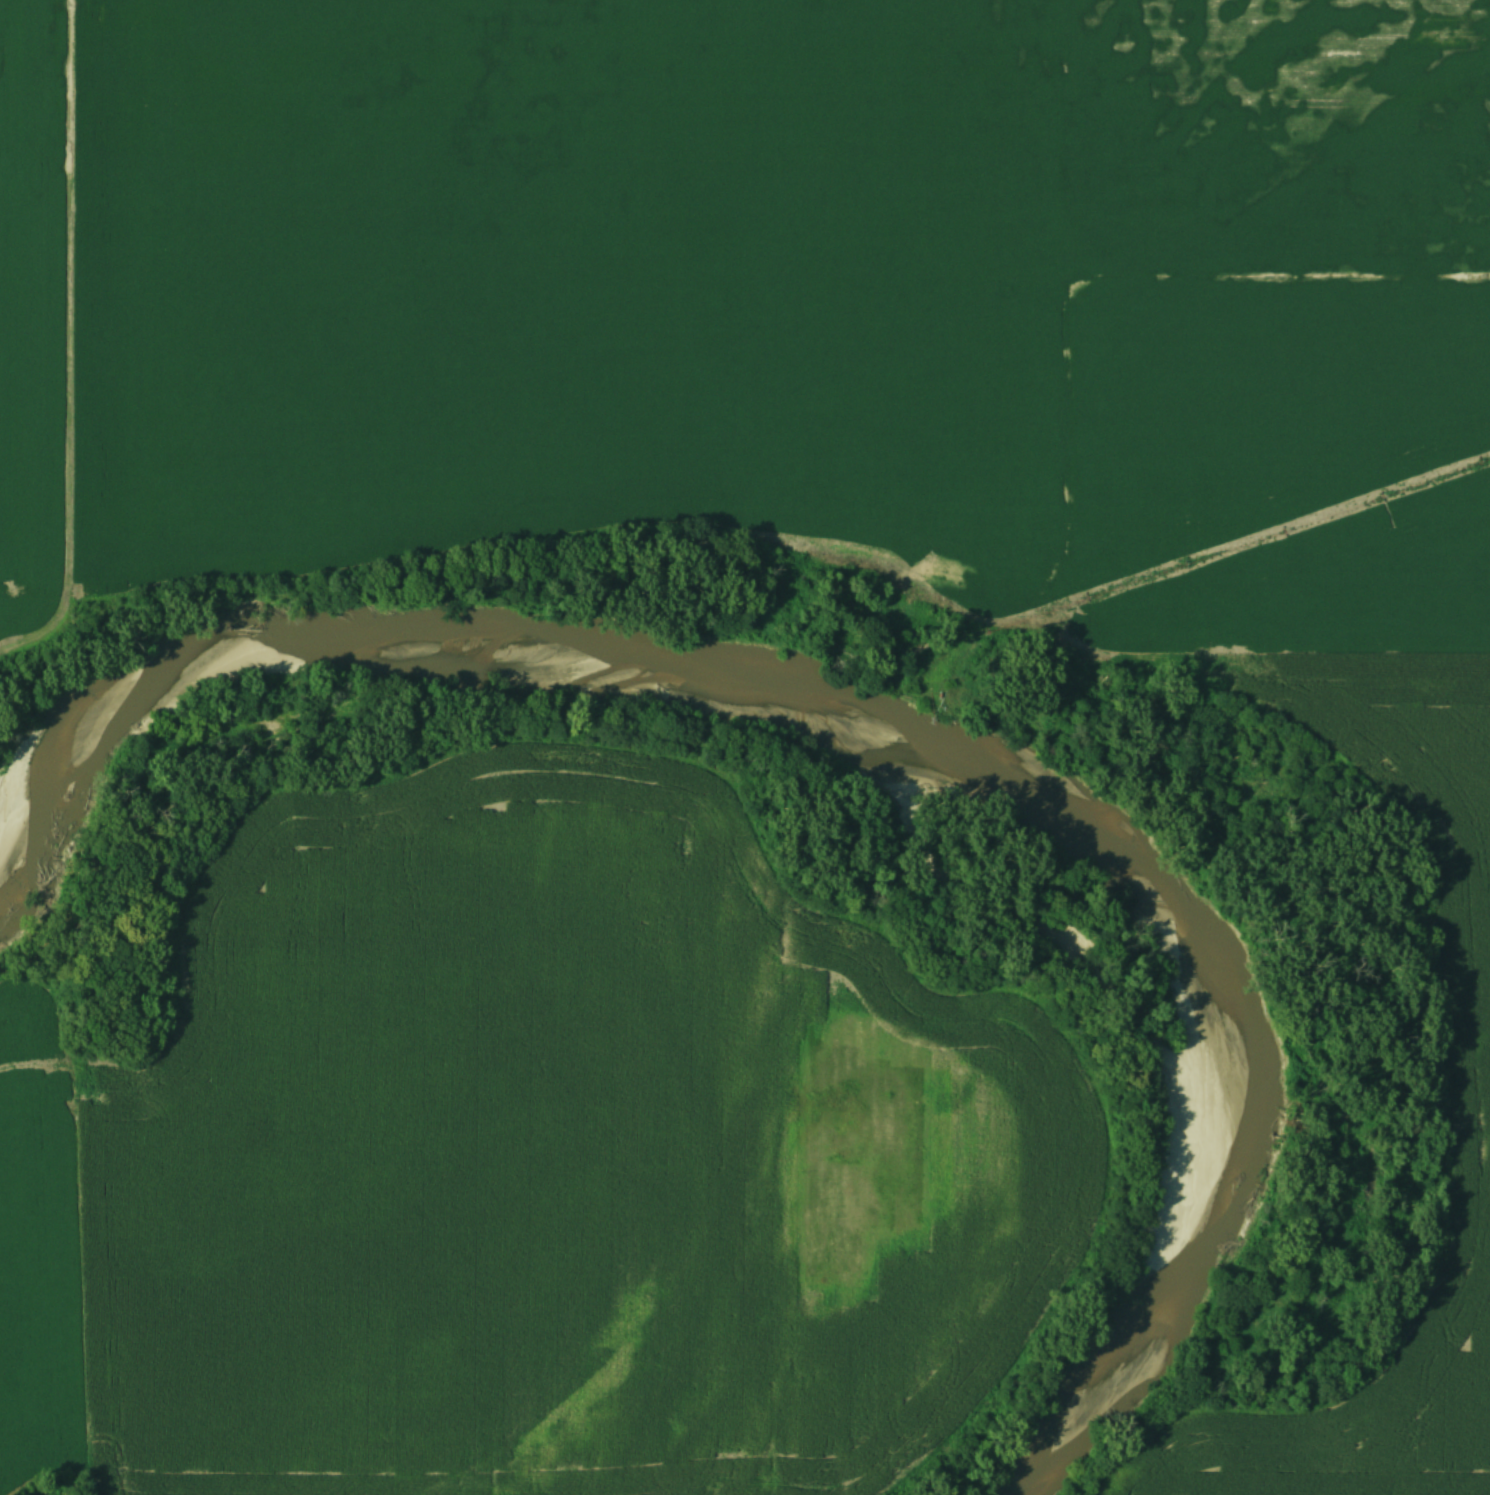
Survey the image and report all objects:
river: (894, 742)

